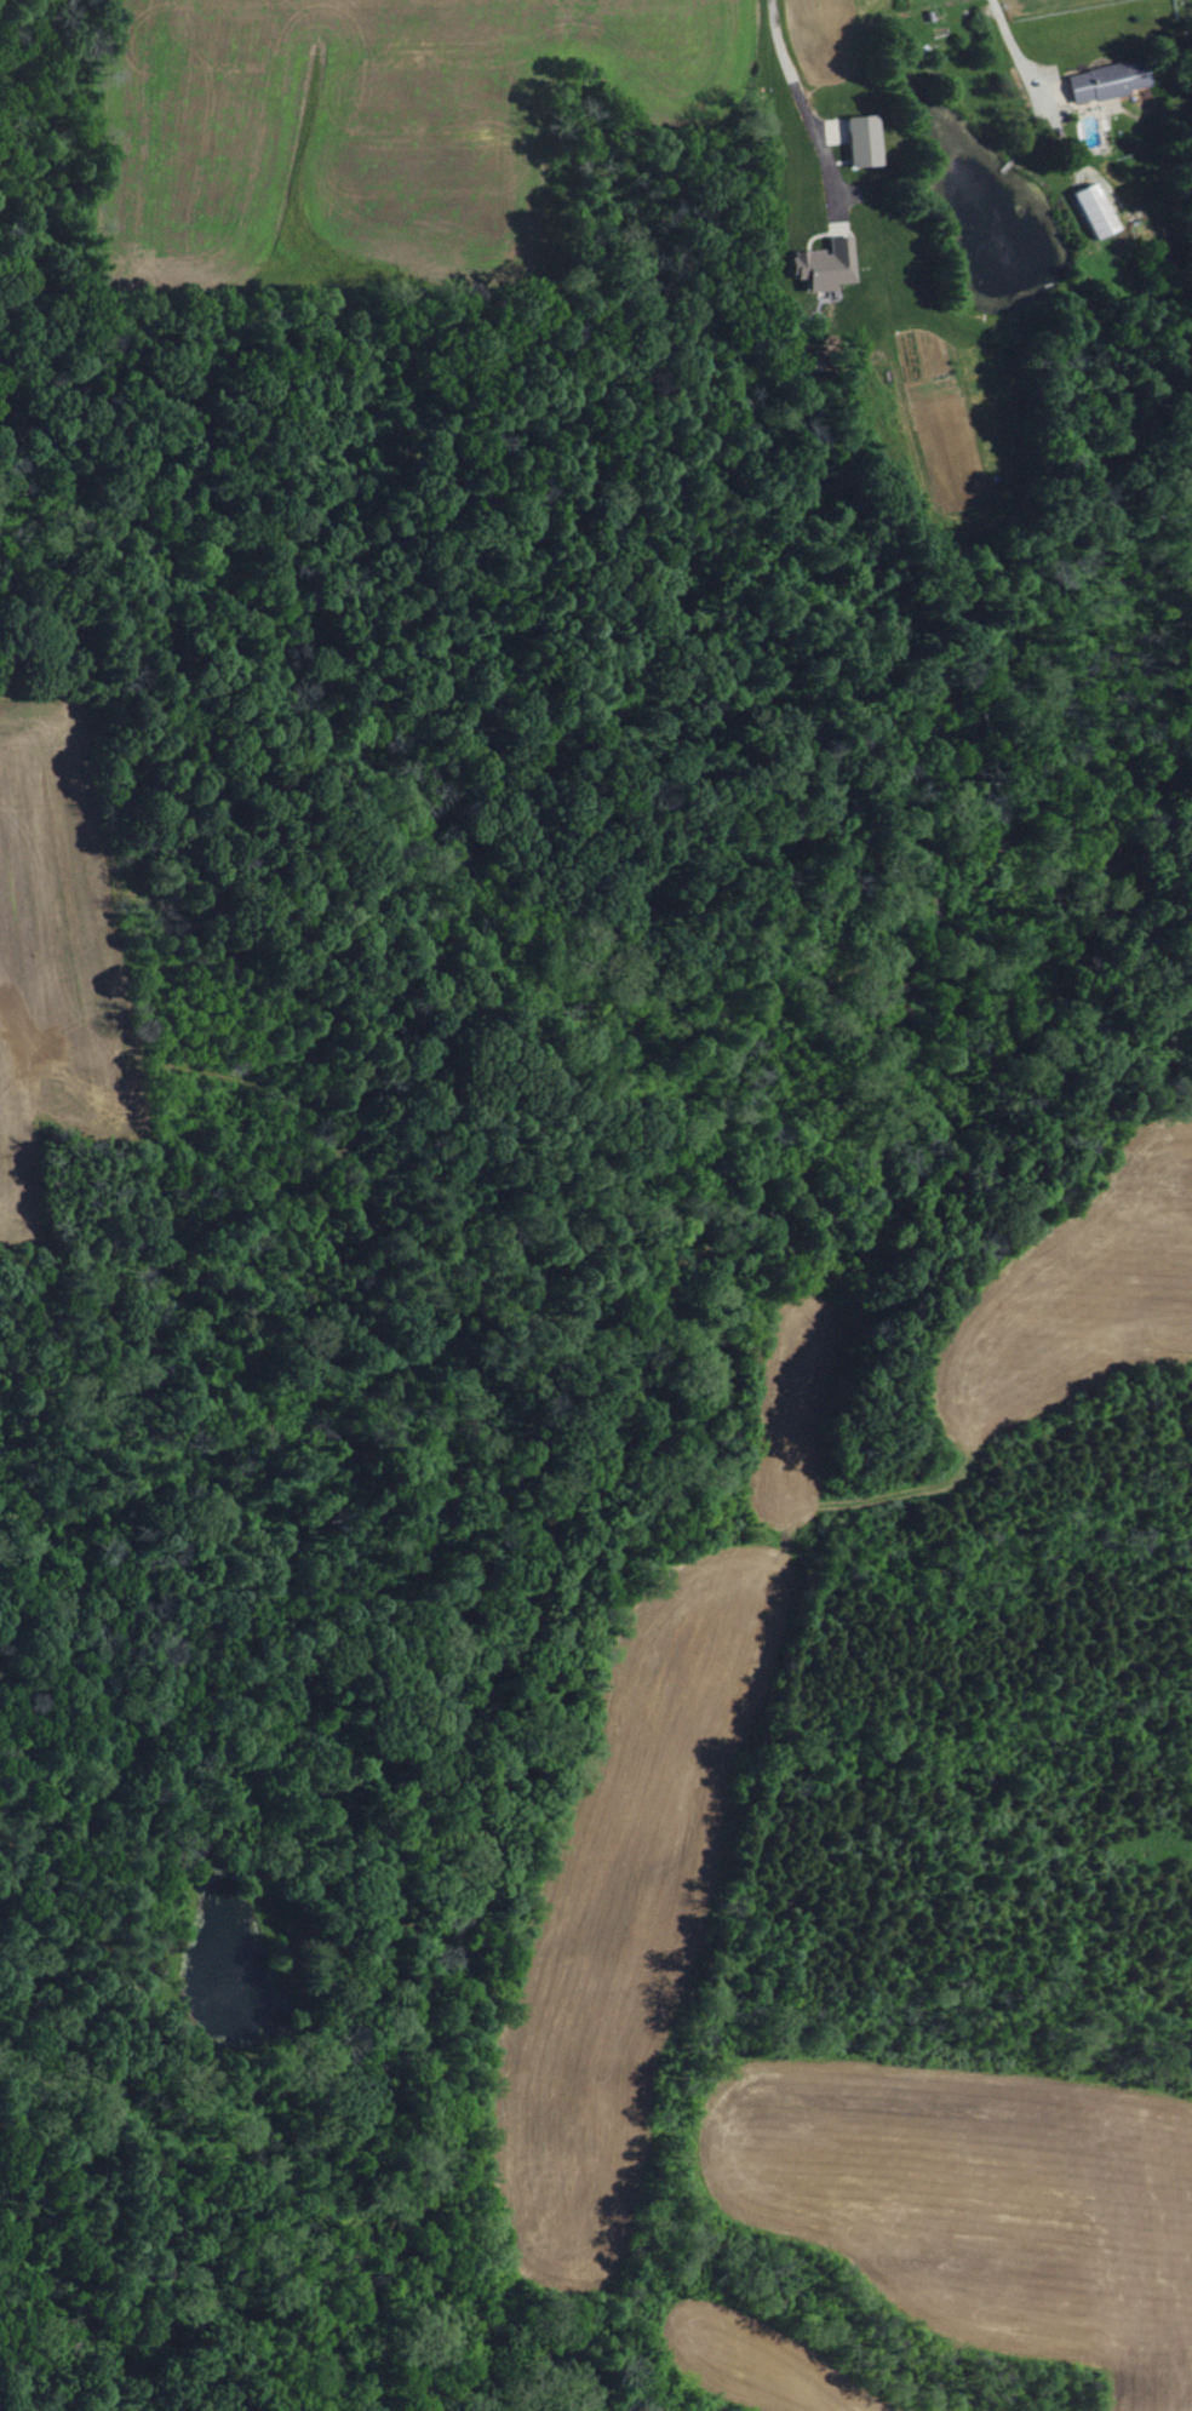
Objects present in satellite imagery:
road: (1012, 50)
building: (1102, 81)
road: (798, 104)
building: (856, 141)
building: (1090, 211)
building: (820, 265)

